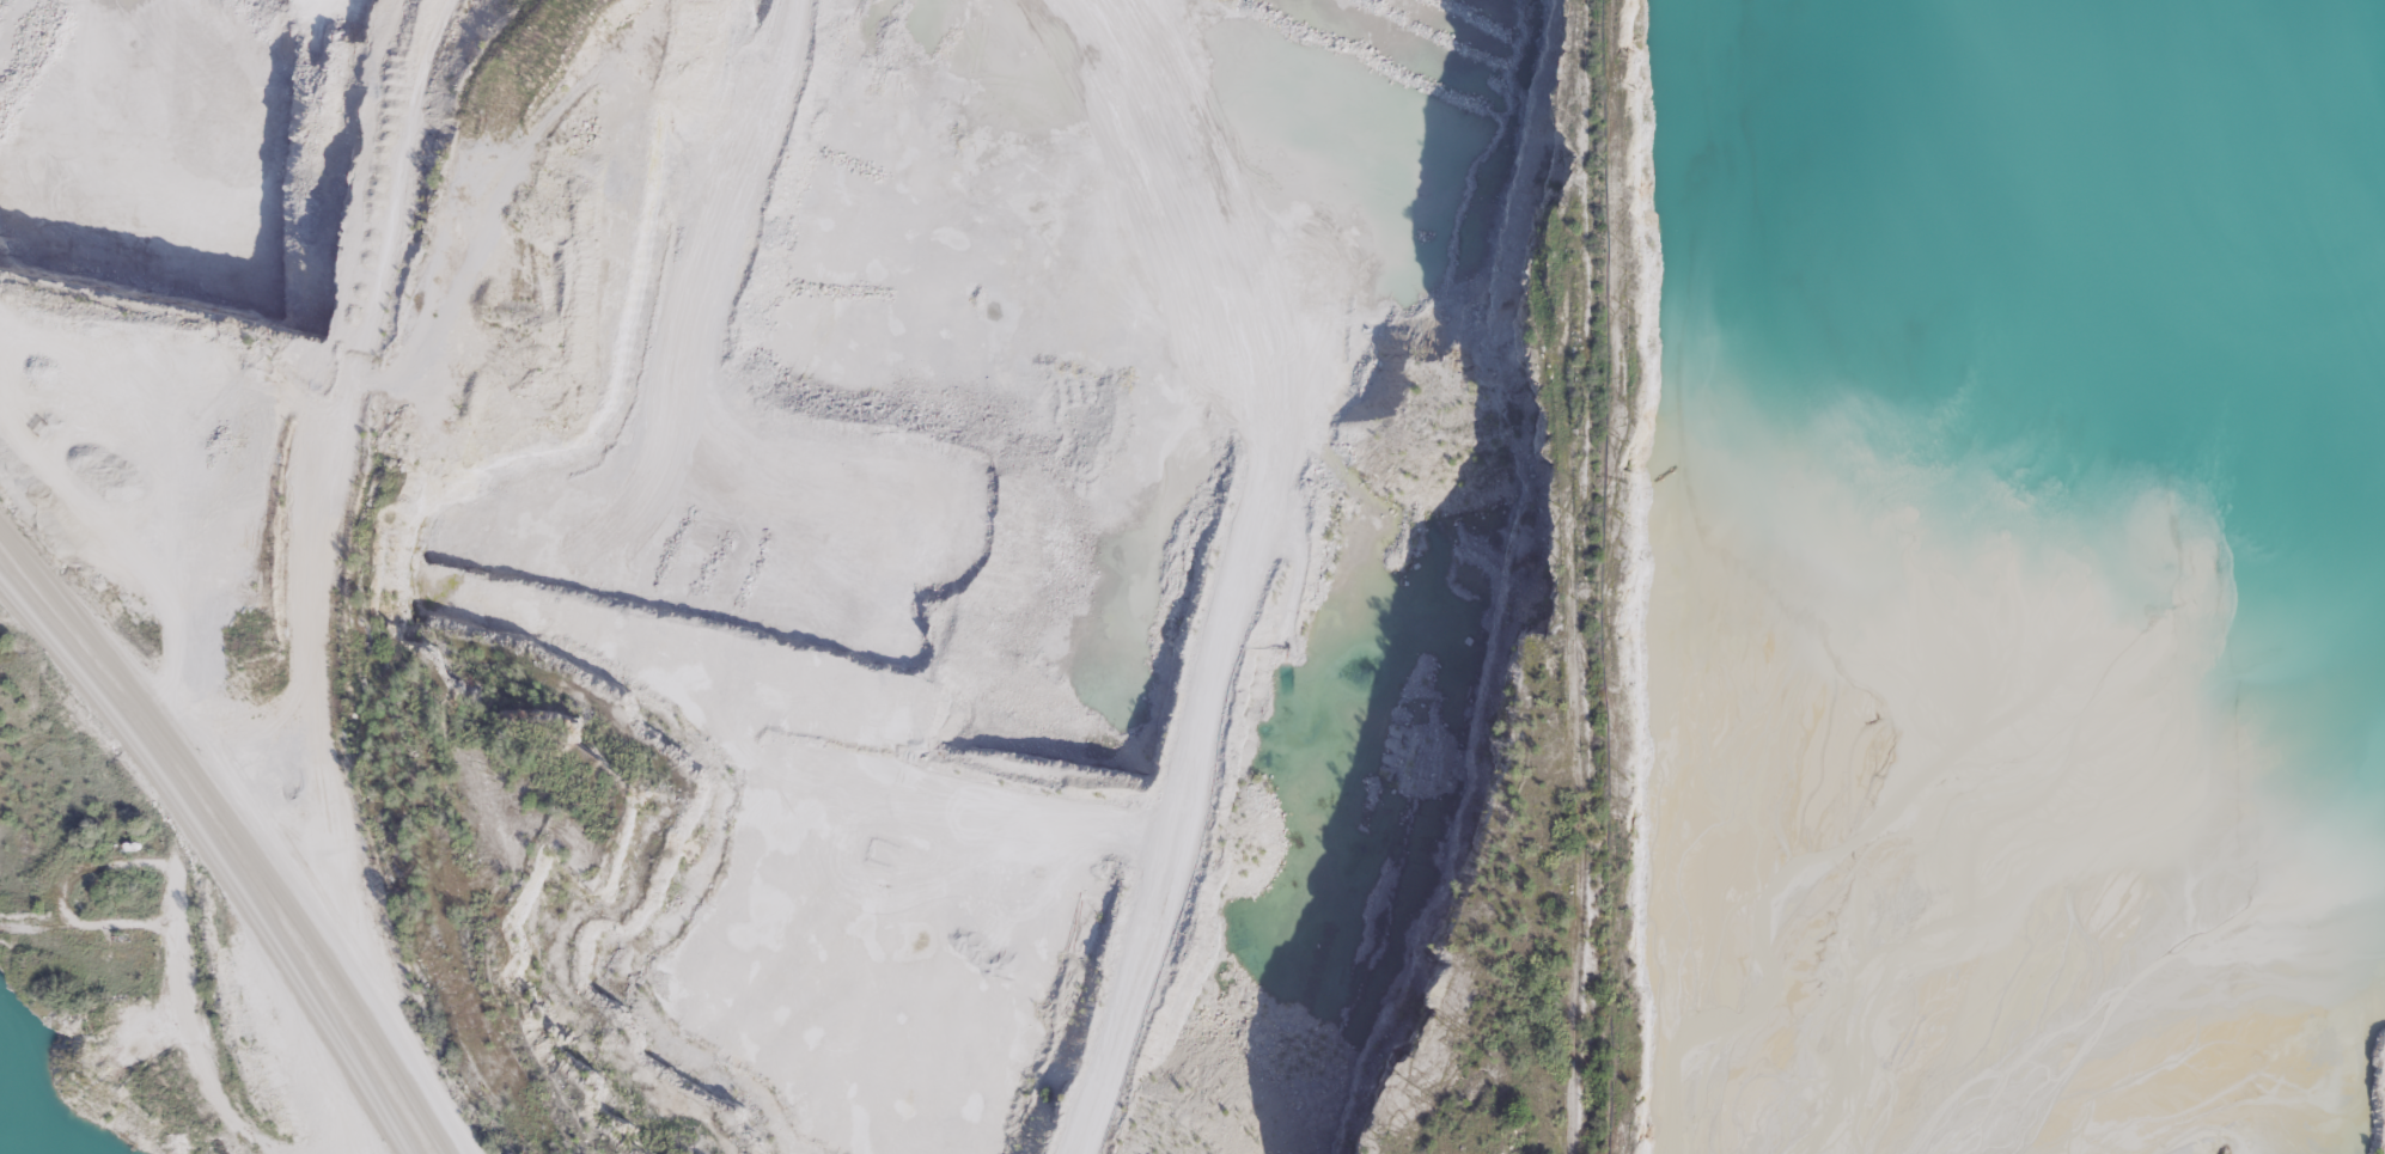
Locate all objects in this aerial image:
quarry: (895, 515)
quarry: (2009, 579)
road: (226, 849)

